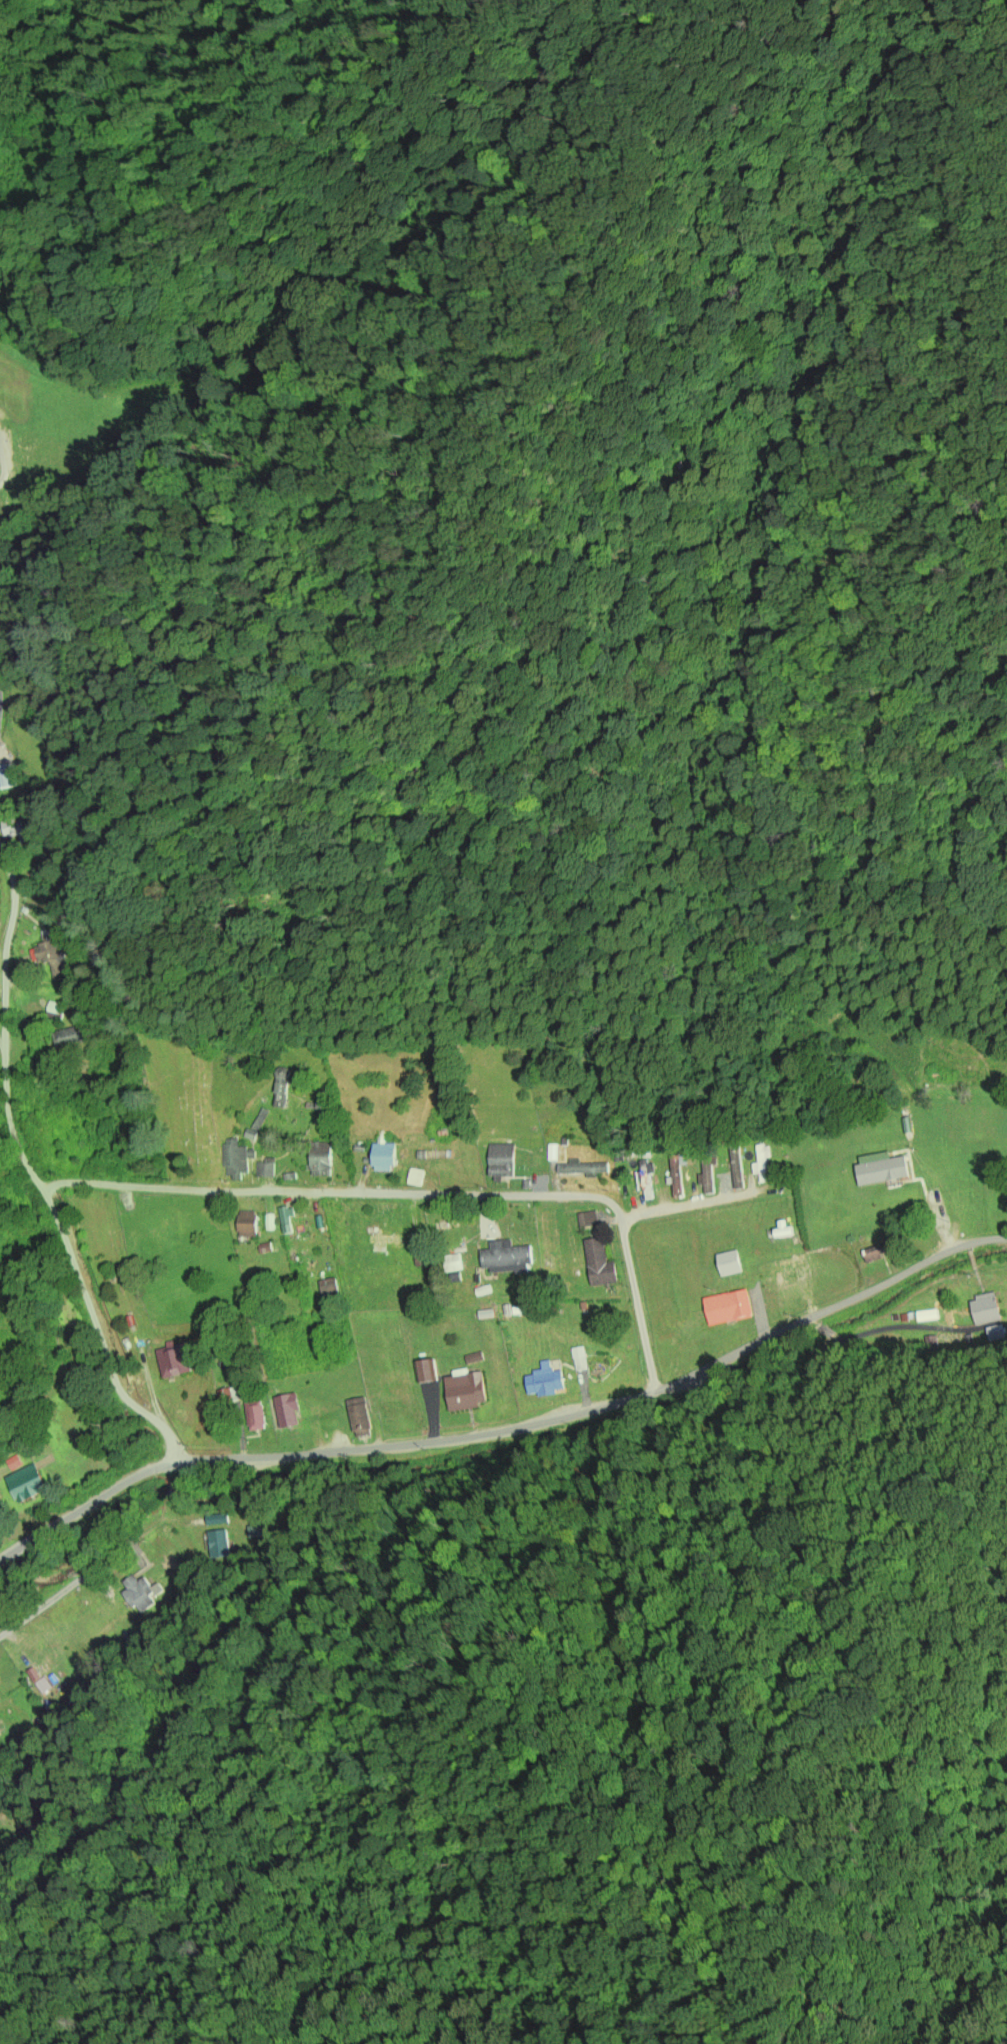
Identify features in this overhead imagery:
road: (4, 462)
building: (5, 778)
building: (15, 829)
building: (54, 957)
building: (68, 1038)
road: (2, 1047)
building: (286, 1097)
building: (325, 1102)
building: (257, 1125)
building: (384, 1158)
building: (320, 1159)
building: (236, 1161)
building: (501, 1162)
building: (736, 1168)
building: (266, 1169)
building: (583, 1170)
building: (882, 1172)
road: (31, 1173)
building: (677, 1178)
building: (646, 1181)
road: (337, 1191)
road: (693, 1205)
building: (285, 1221)
building: (588, 1221)
building: (246, 1225)
building: (158, 1228)
building: (385, 1242)
building: (504, 1261)
building: (453, 1263)
building: (729, 1264)
building: (599, 1265)
building: (791, 1272)
road: (637, 1305)
building: (728, 1308)
building: (986, 1309)
building: (996, 1334)
building: (173, 1362)
building: (396, 1372)
building: (425, 1372)
building: (545, 1382)
building: (466, 1392)
building: (227, 1394)
road: (608, 1403)
building: (284, 1412)
building: (255, 1416)
building: (359, 1418)
building: (13, 1463)
road: (0, 1475)
building: (26, 1484)
road: (87, 1505)
building: (218, 1519)
building: (256, 1532)
building: (219, 1544)
road: (80, 1581)
building: (140, 1594)
building: (32, 1675)

